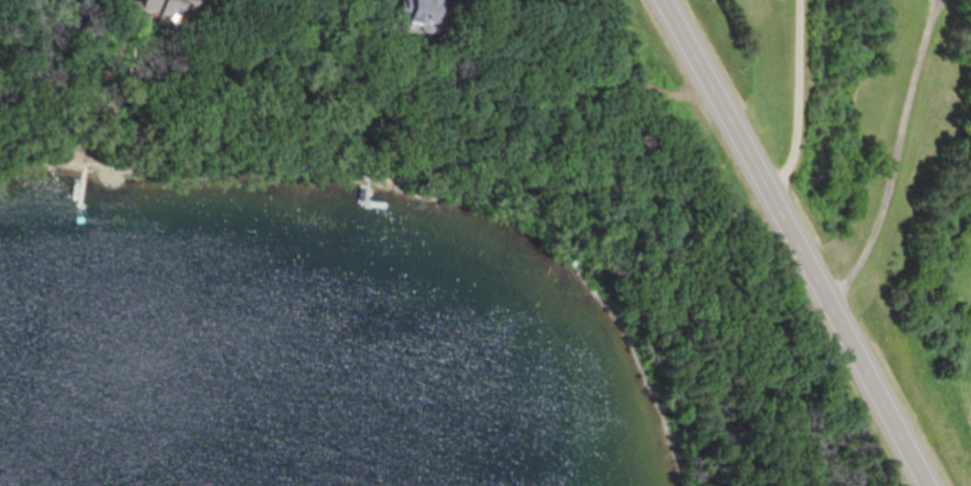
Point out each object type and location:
building: (166, 7)
building: (415, 14)
road: (802, 107)
road: (900, 161)
road: (797, 243)

